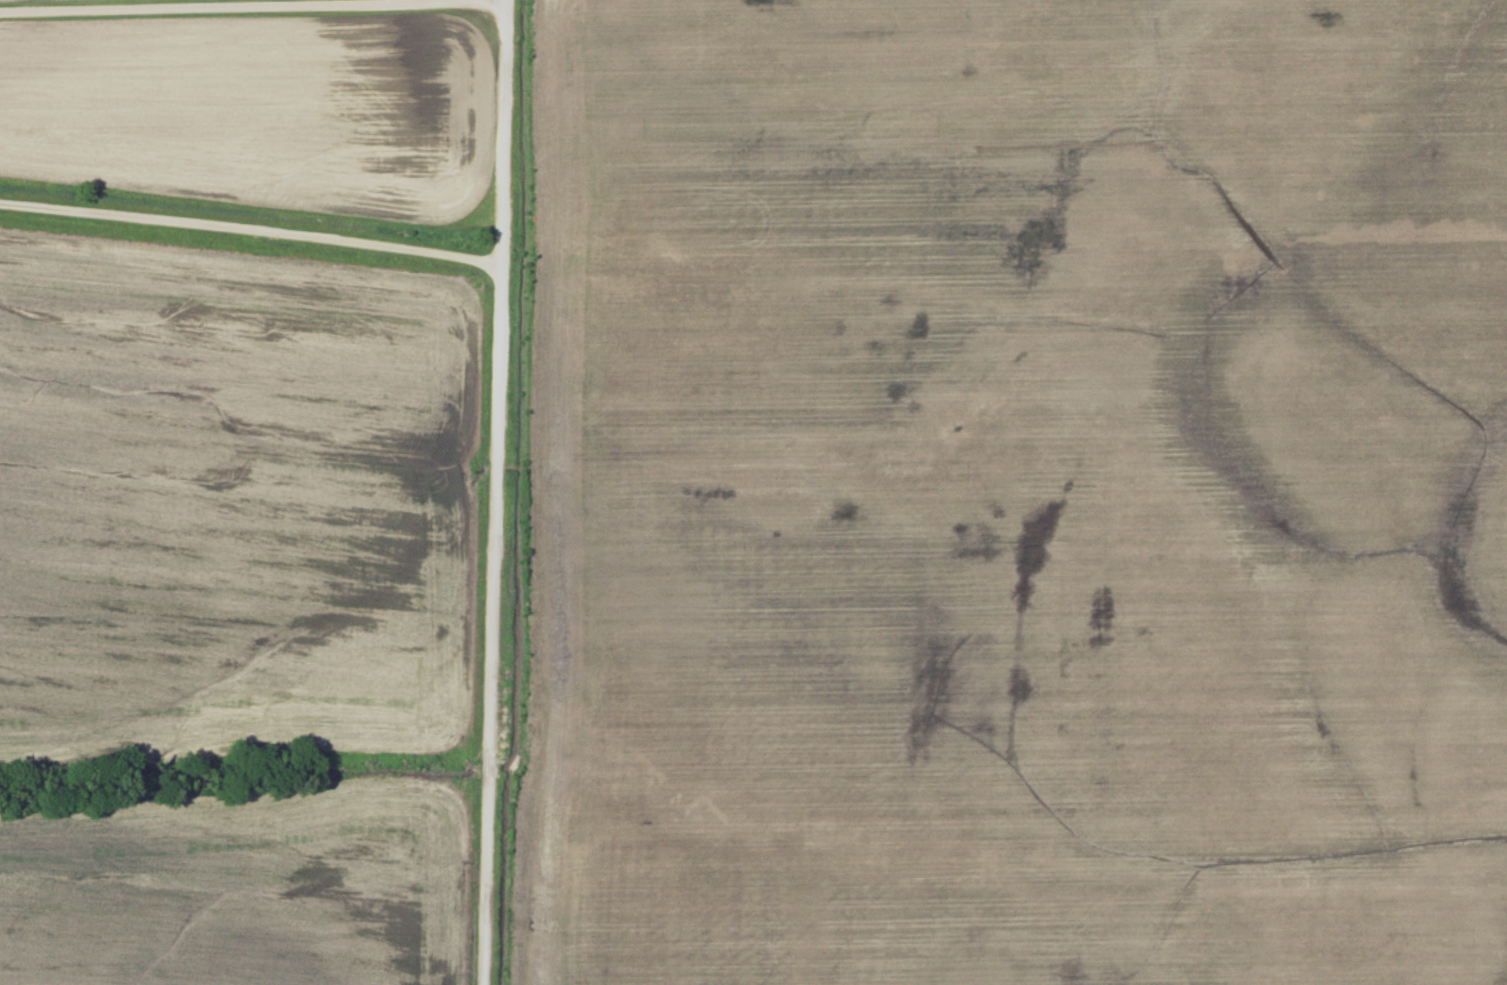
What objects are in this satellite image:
road: (252, 19)
road: (249, 227)
road: (492, 492)
crop: (1019, 494)

